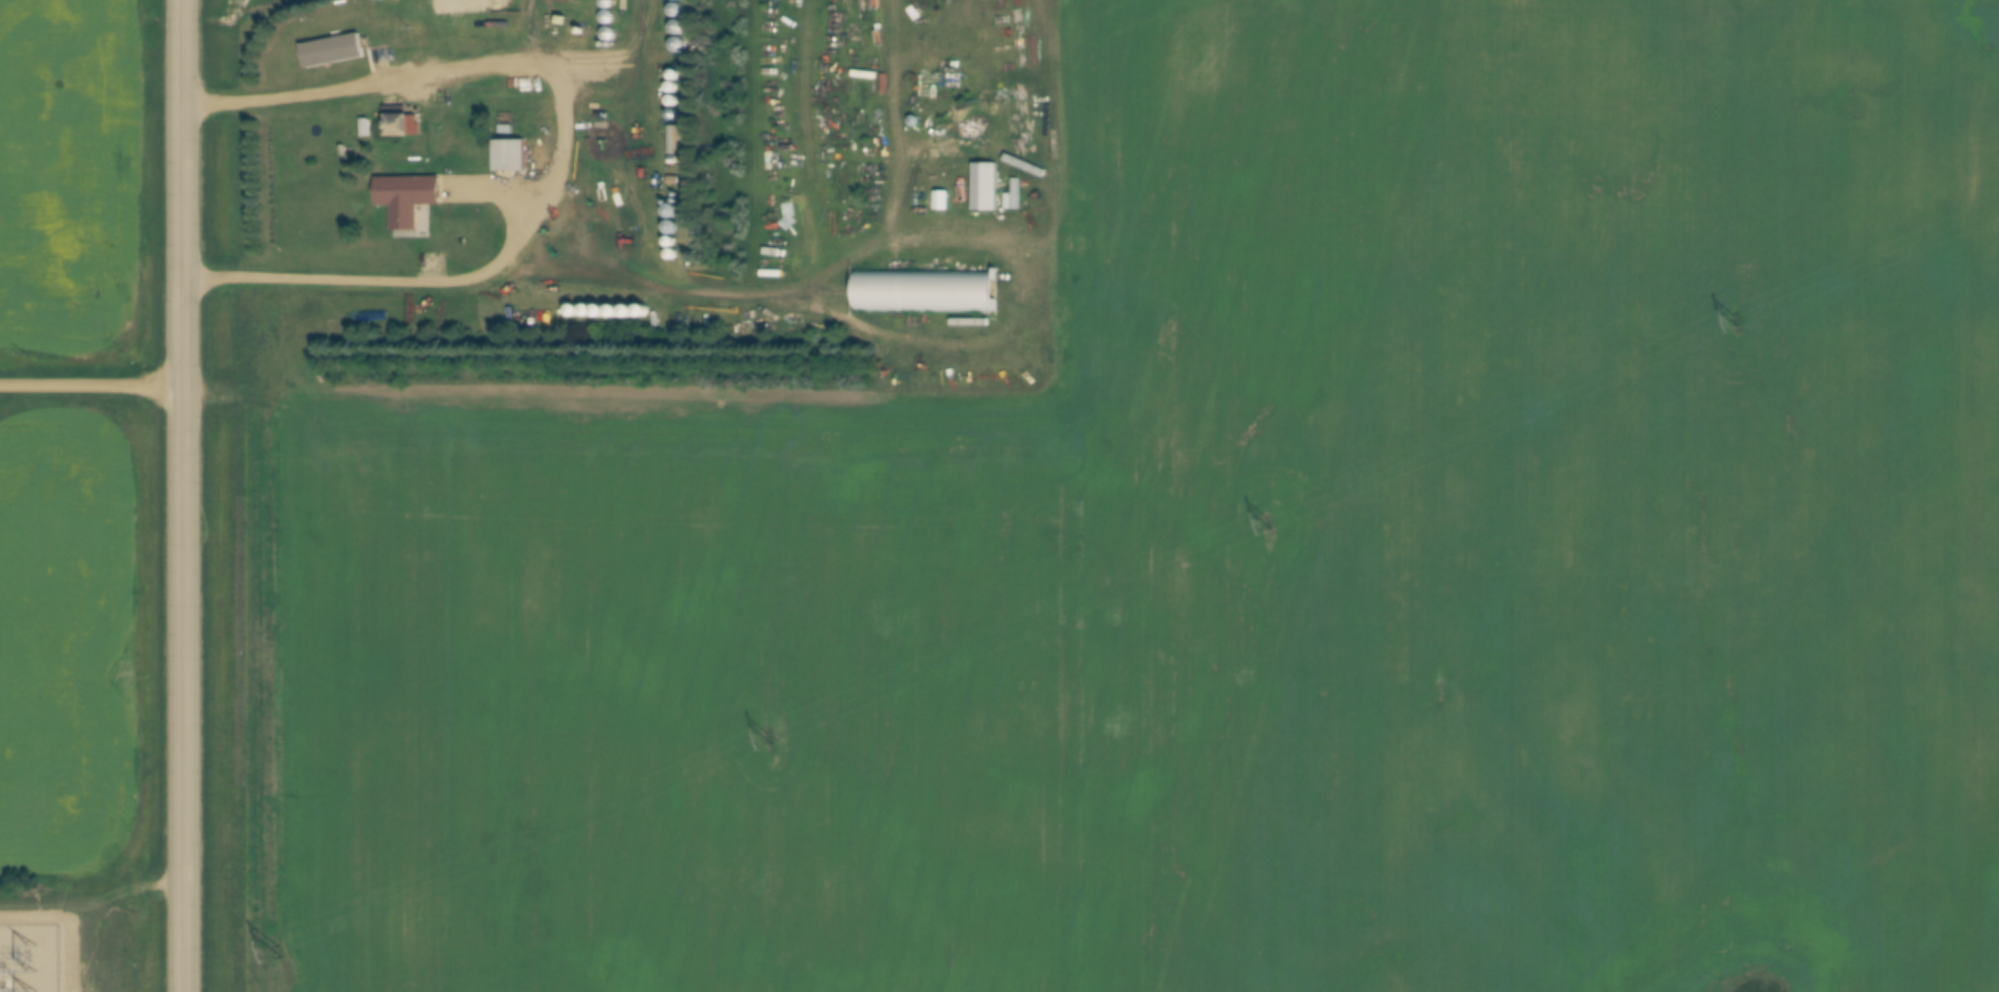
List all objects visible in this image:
building: (675, 0)
building: (451, 6)
building: (676, 10)
building: (676, 37)
building: (330, 50)
building: (510, 119)
building: (397, 121)
building: (673, 140)
road: (561, 154)
building: (508, 155)
building: (983, 187)
building: (406, 192)
building: (926, 292)
power tower: (1736, 320)
road: (90, 385)
road: (182, 495)
power tower: (1268, 523)
power tower: (770, 739)
power tower: (278, 950)
power substation: (28, 958)

